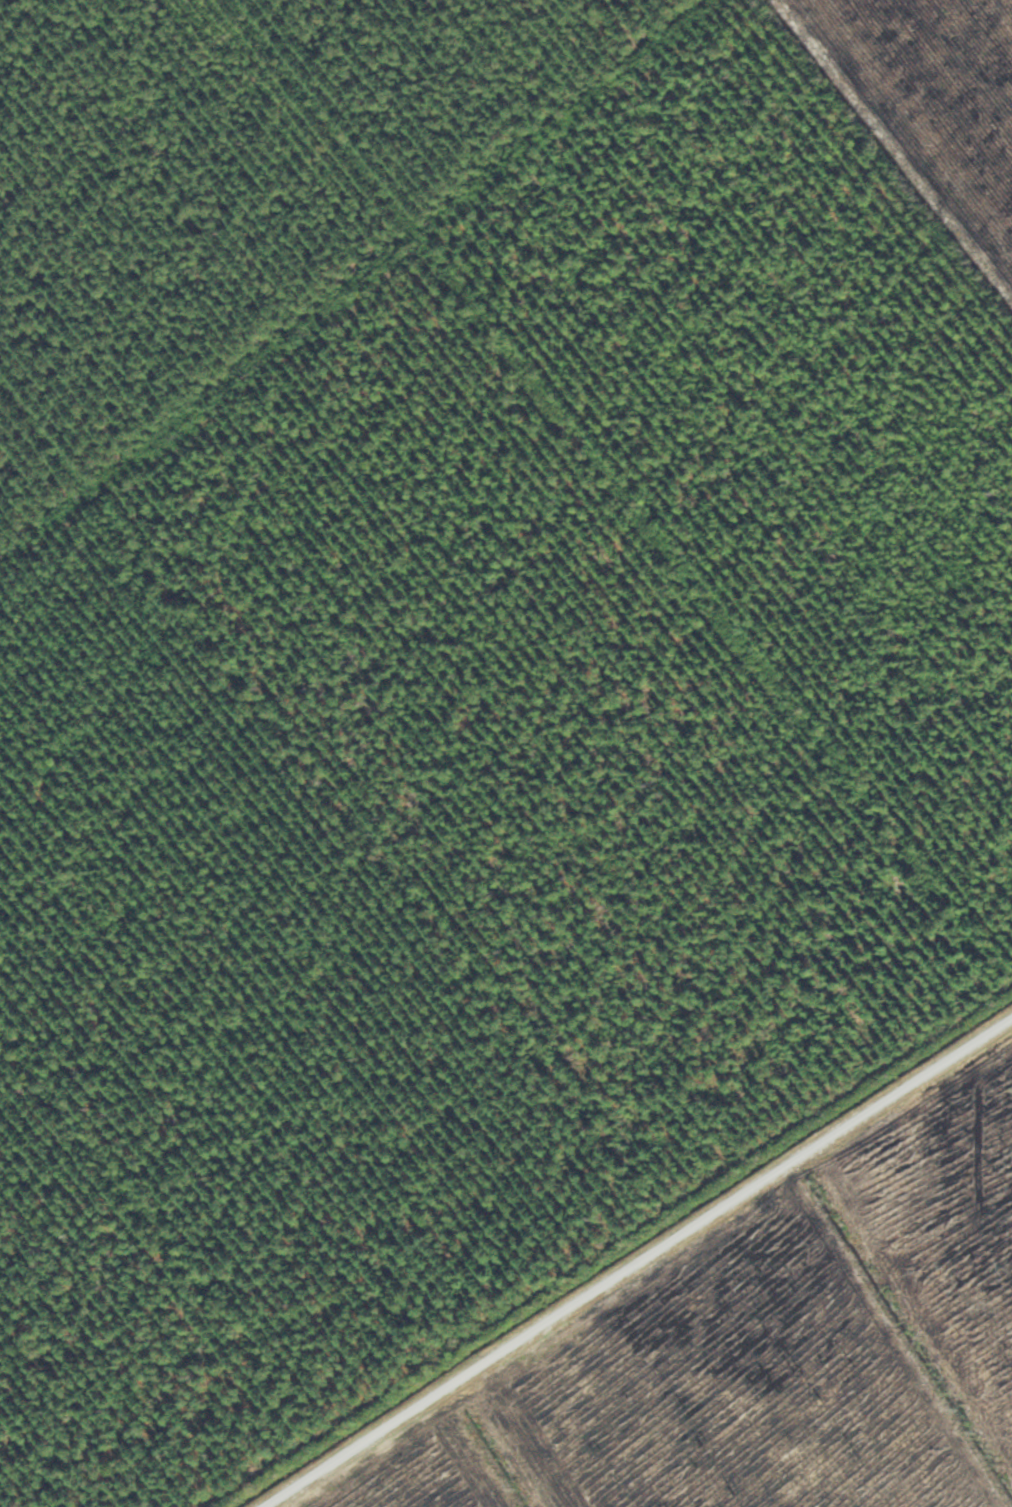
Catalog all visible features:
road: (640, 1262)

